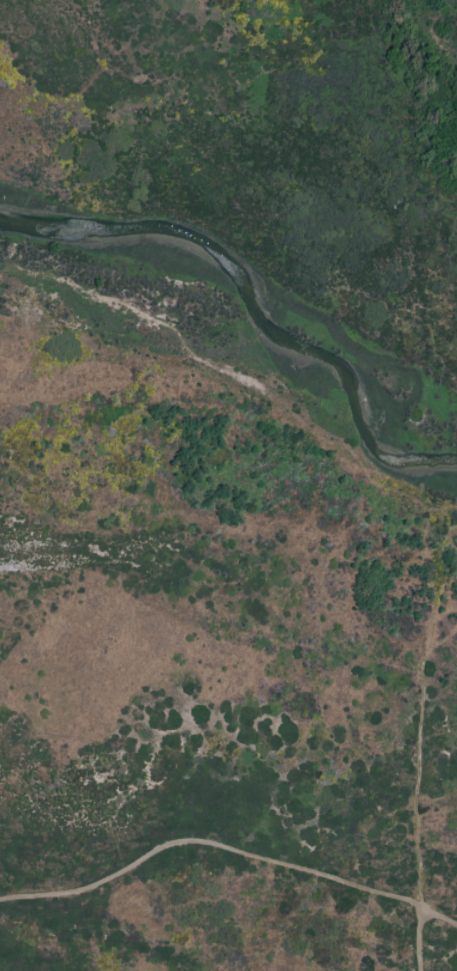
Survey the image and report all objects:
river: (254, 303)
road: (228, 850)
road: (420, 940)

